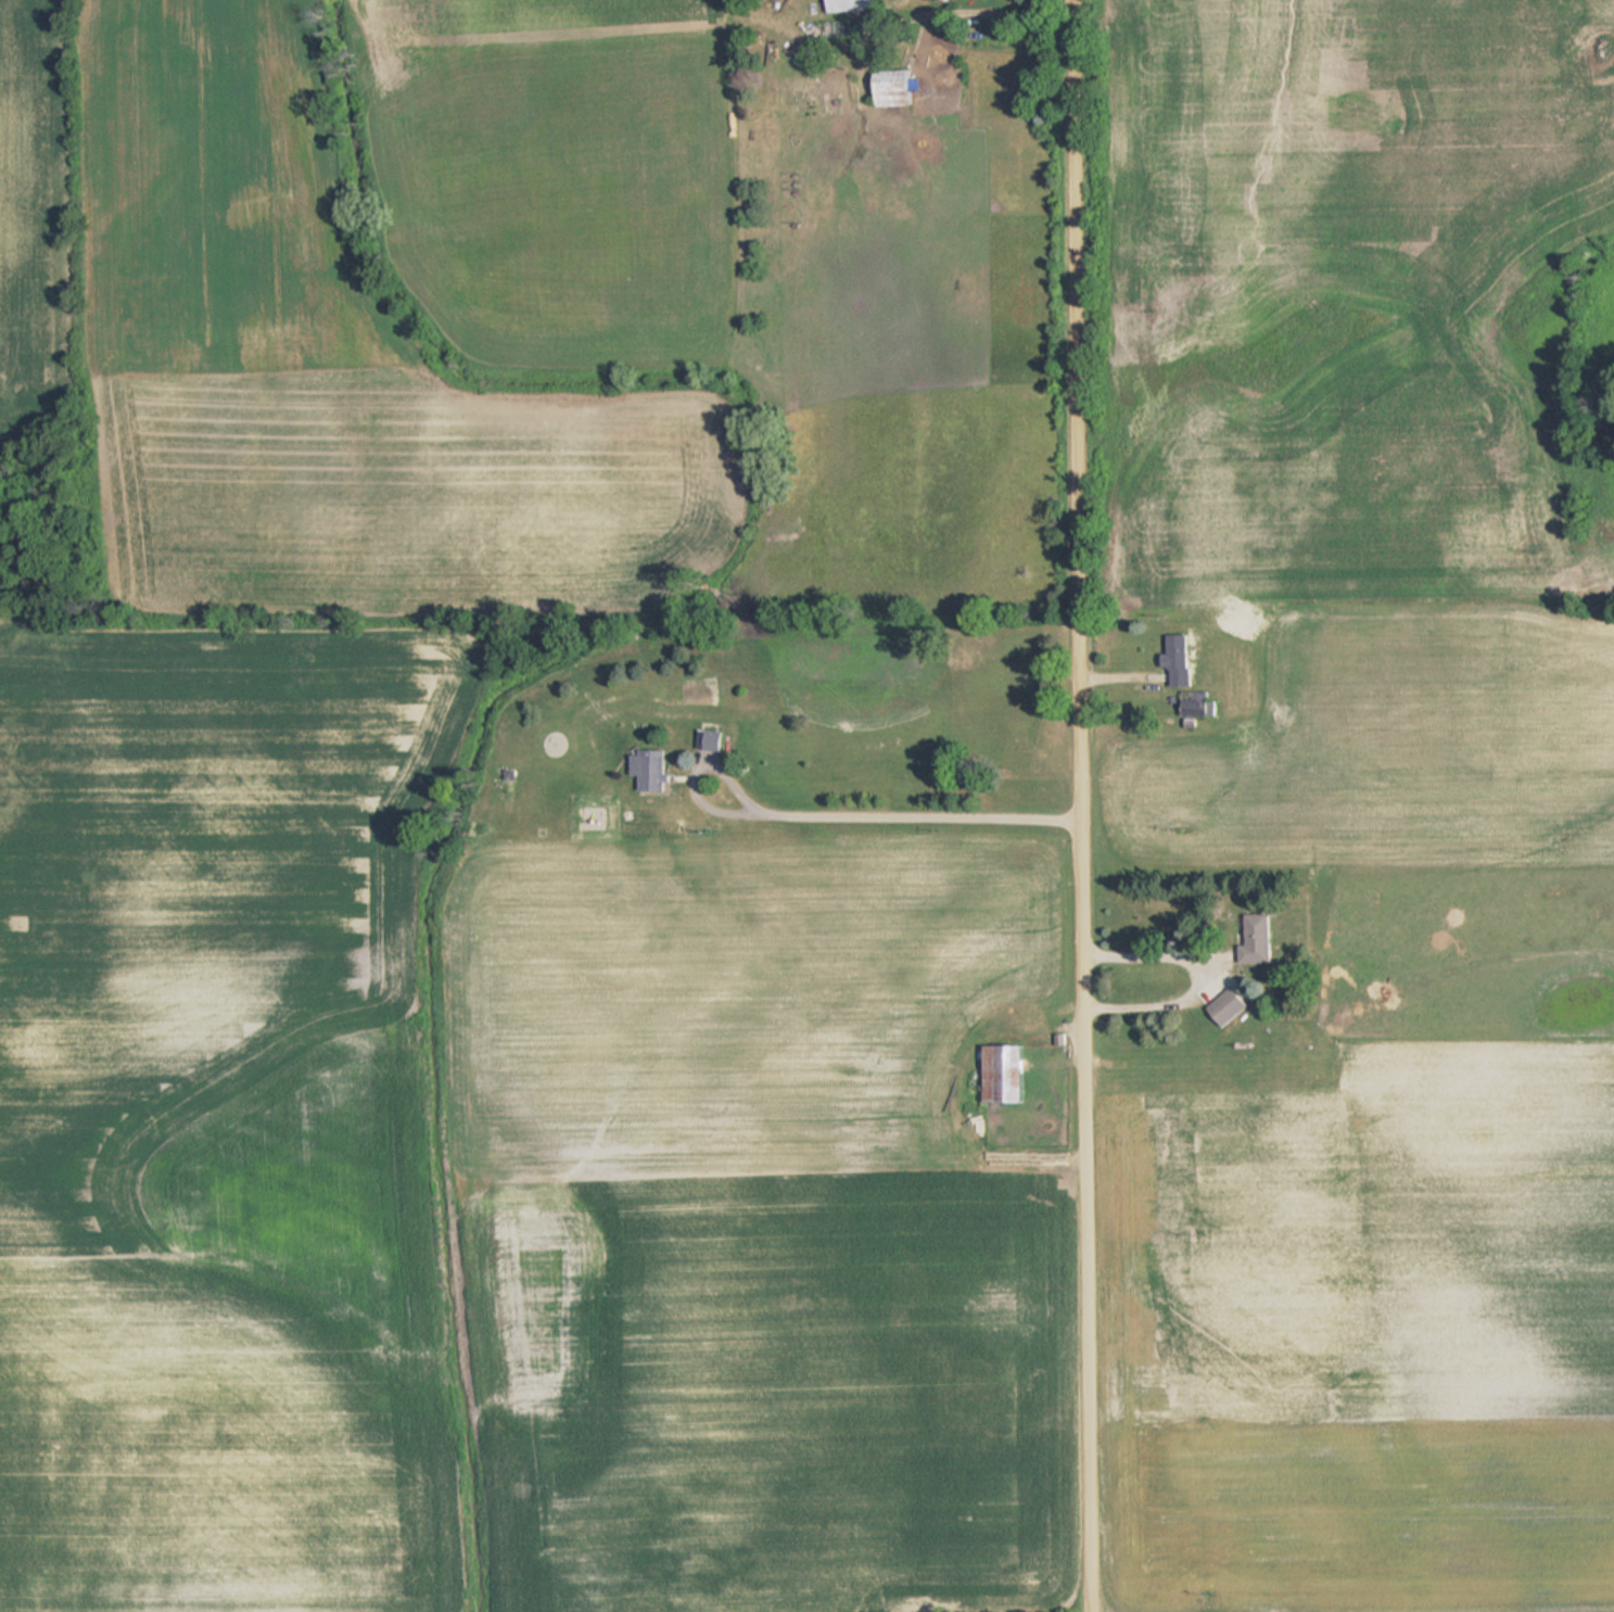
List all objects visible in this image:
building: (855, 5)
building: (897, 88)
building: (1183, 660)
building: (1198, 703)
building: (652, 770)
road: (1082, 805)
building: (1259, 939)
building: (1230, 1006)
building: (1008, 1075)

